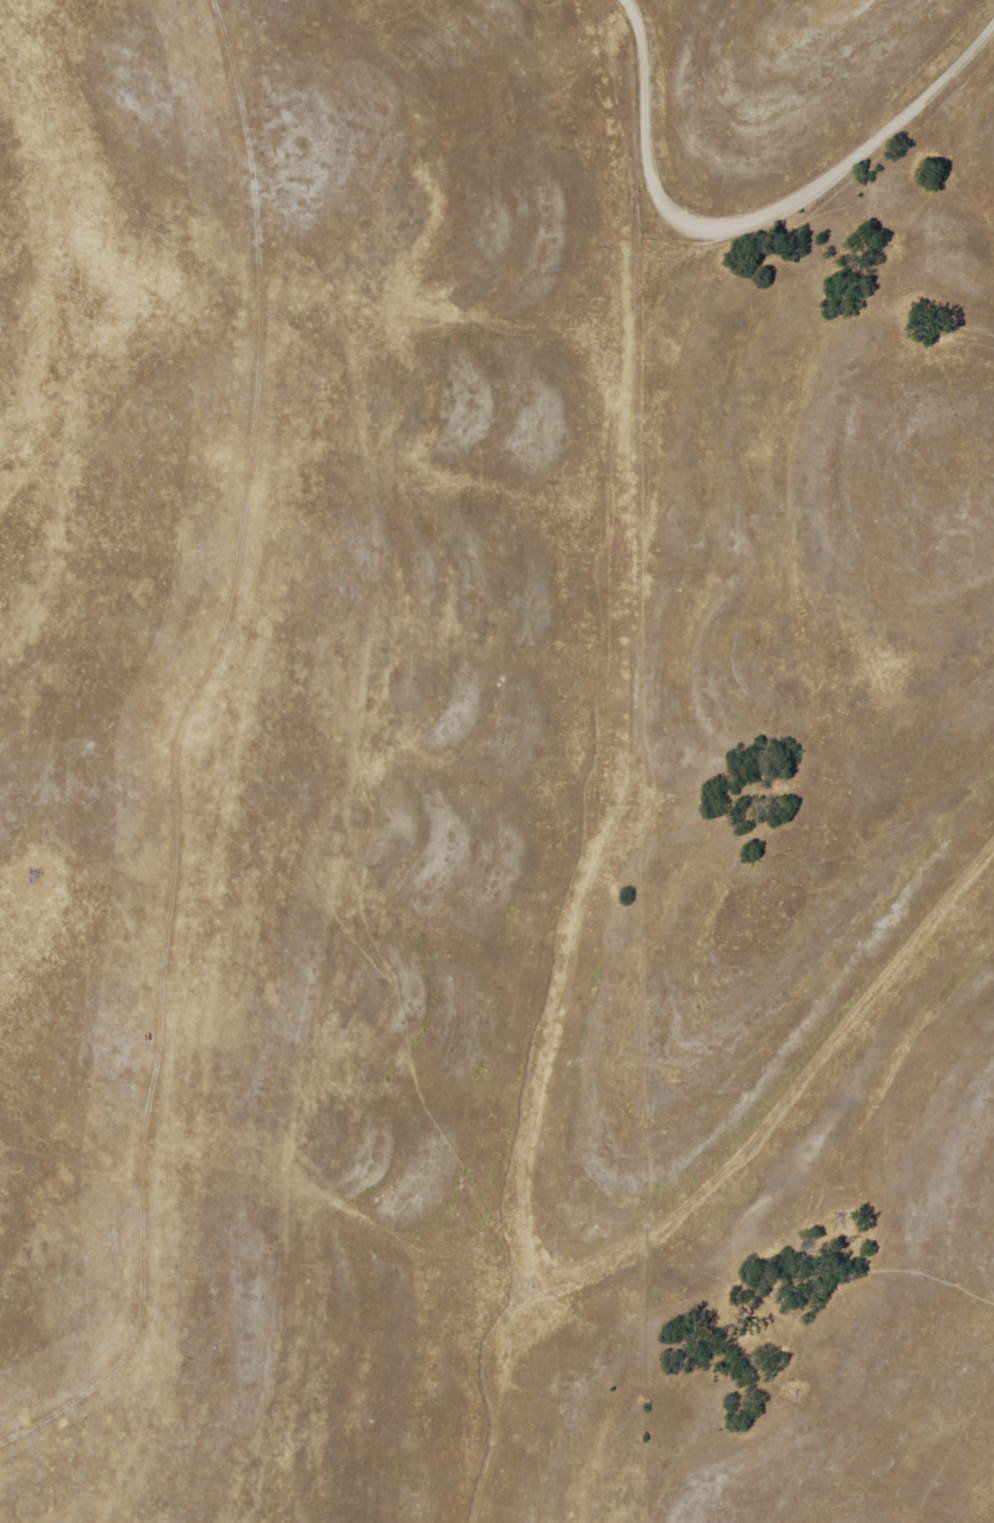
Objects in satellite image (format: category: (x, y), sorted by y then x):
road: (756, 216)

